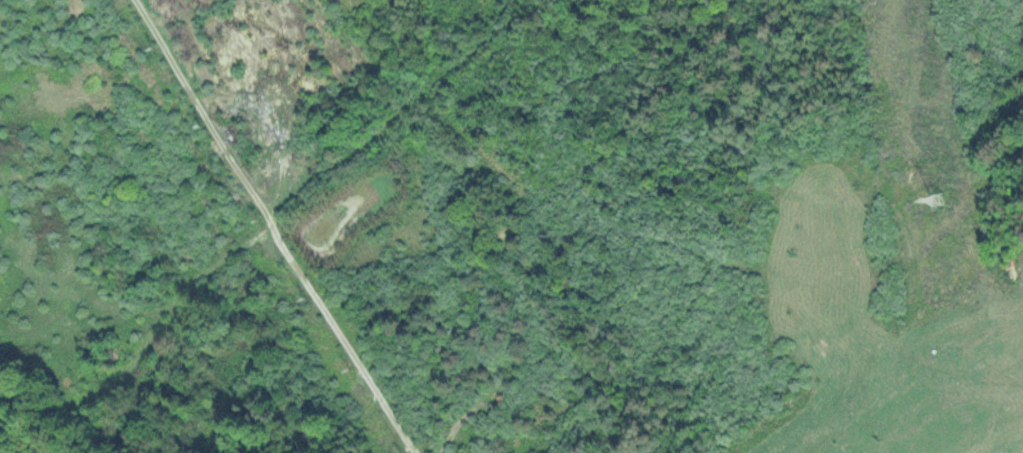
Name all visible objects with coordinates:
road: (402, 103)
power tower: (935, 206)

